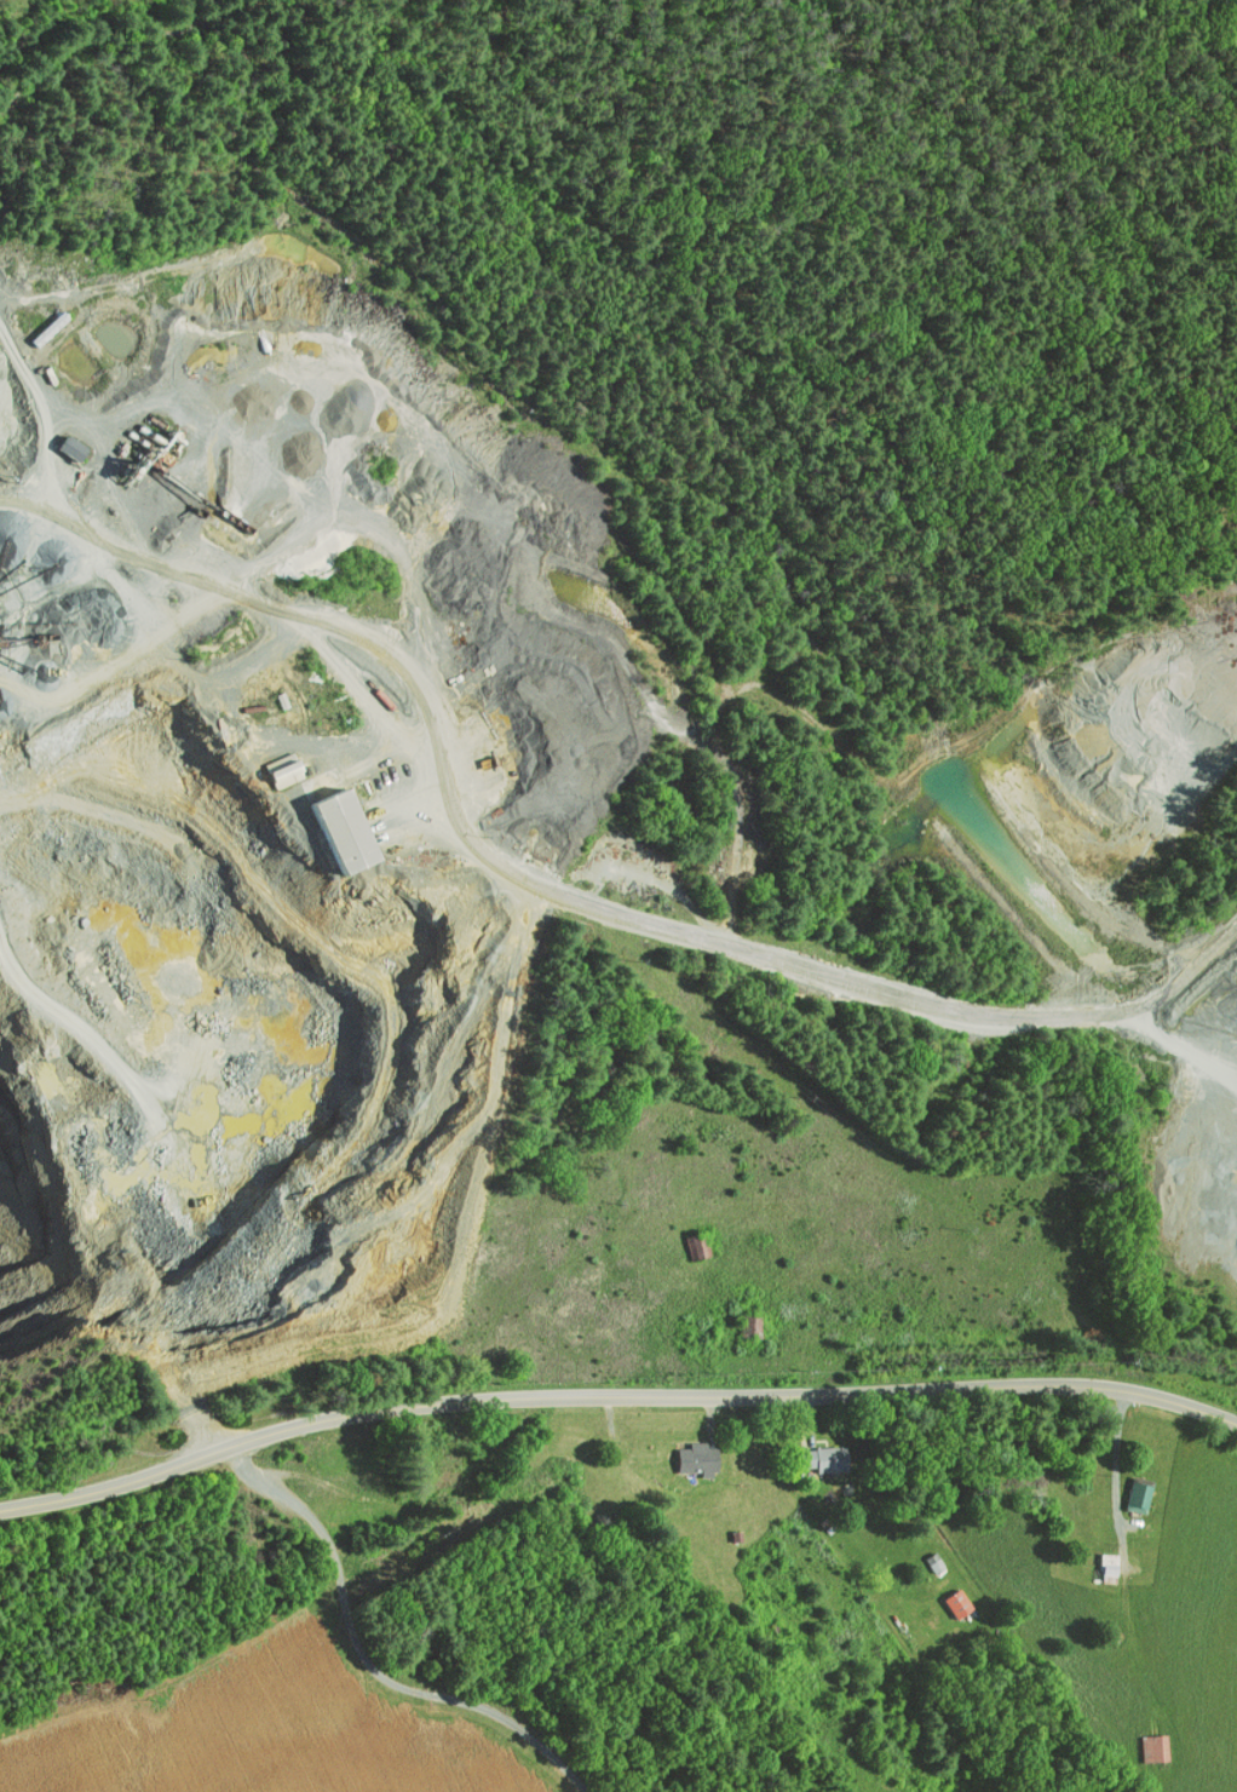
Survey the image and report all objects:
quarry: (511, 794)
road: (881, 987)
road: (777, 1305)
road: (614, 1397)
road: (422, 1505)
road: (749, 1590)
road: (1127, 1590)
road: (345, 1599)

